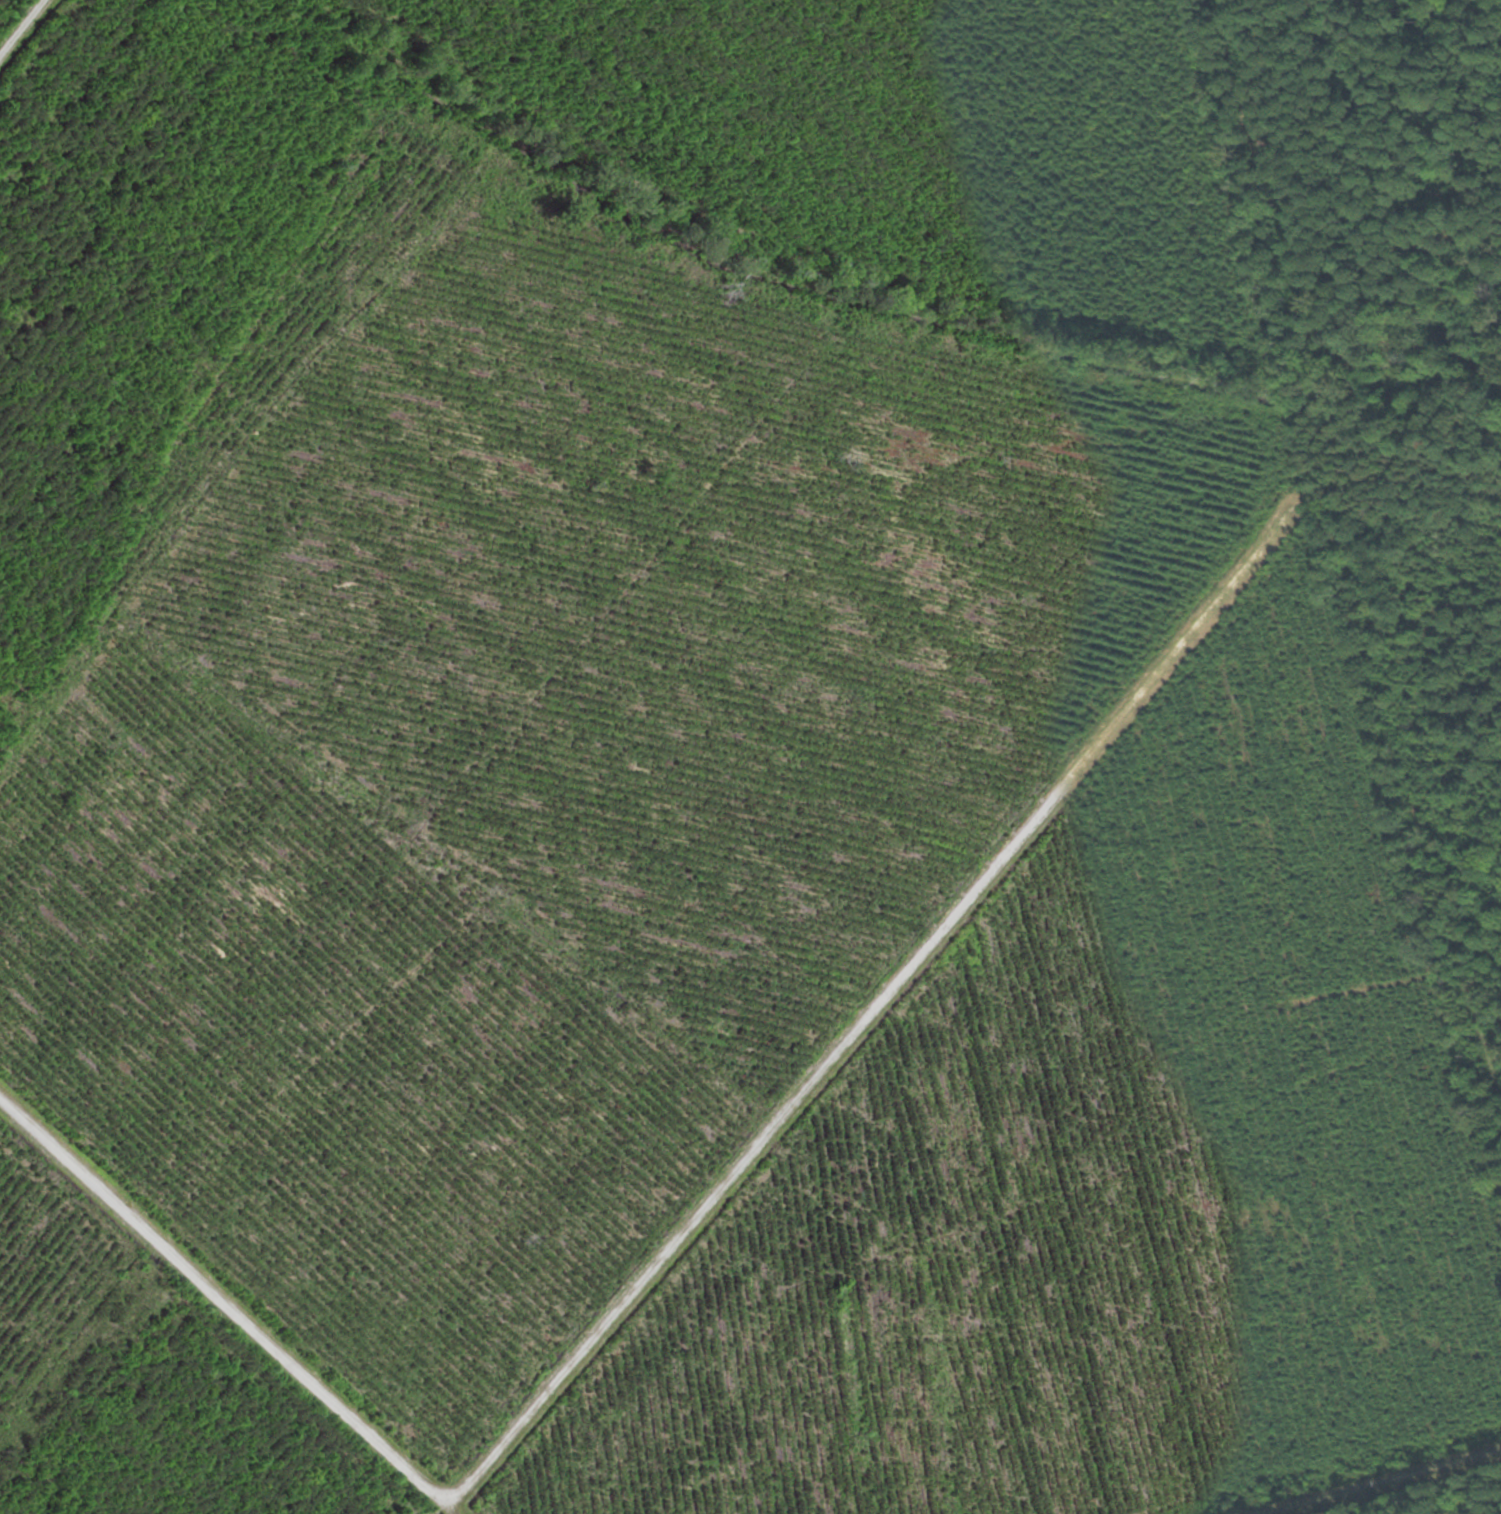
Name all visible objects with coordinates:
road: (26, 34)
road: (210, 1322)

